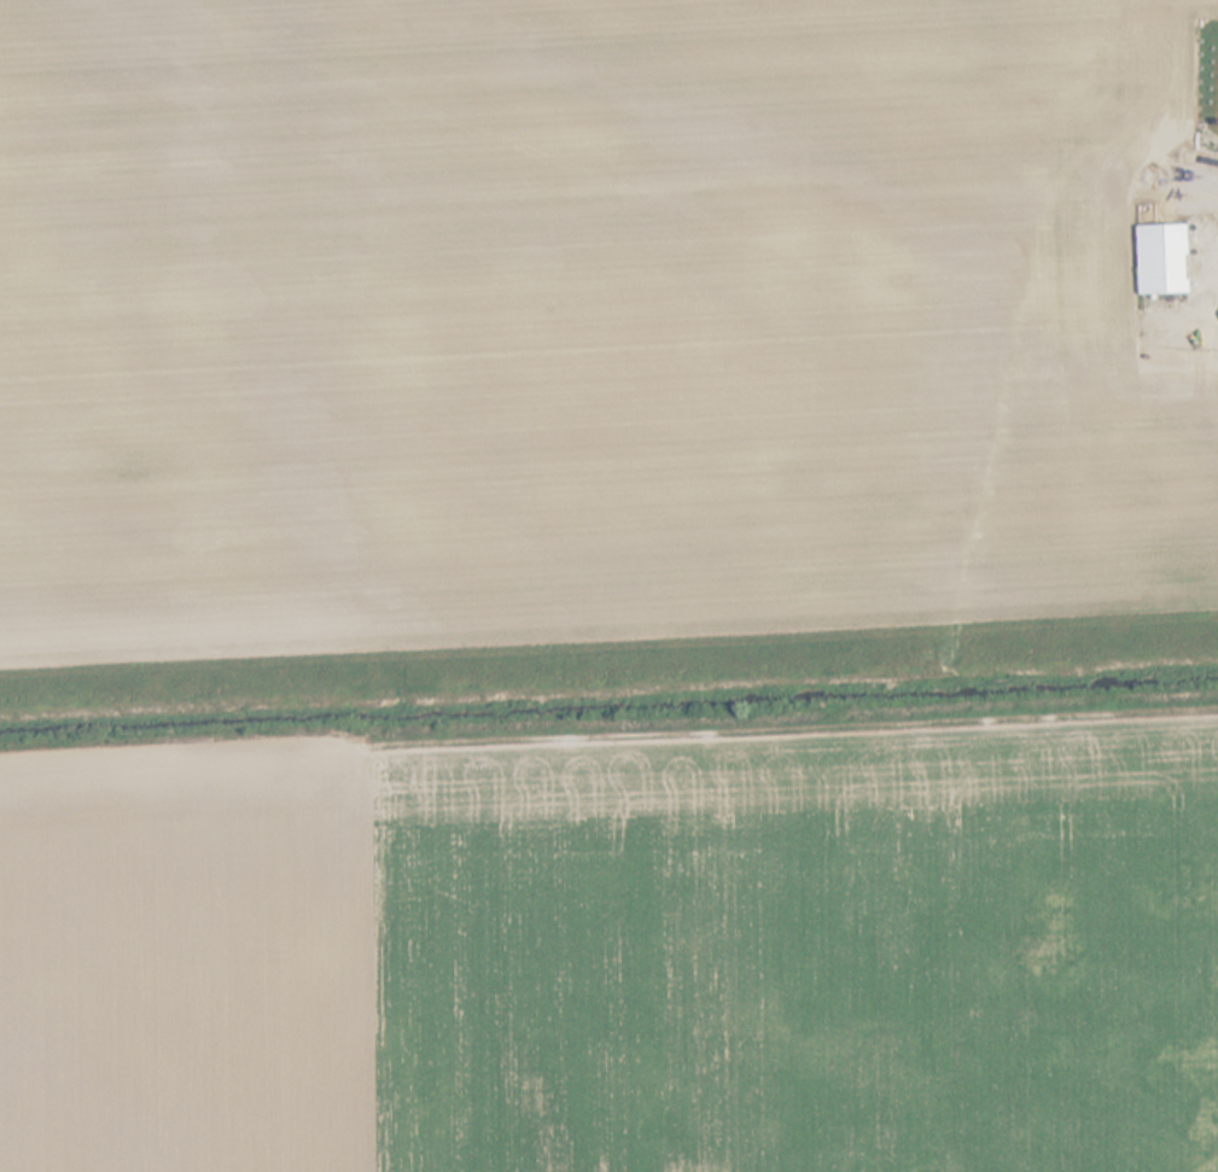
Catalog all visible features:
building: (1170, 258)

